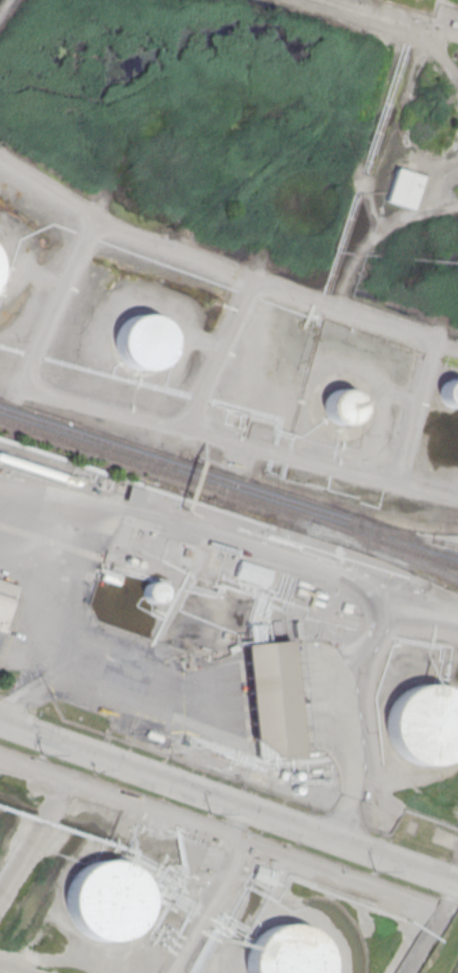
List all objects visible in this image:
building: (404, 188)
building: (1, 282)
building: (143, 341)
building: (449, 393)
building: (341, 407)
railway: (228, 483)
railway: (229, 492)
railway: (406, 535)
railway: (443, 543)
railway: (397, 555)
road: (290, 556)
building: (252, 573)
building: (155, 592)
building: (5, 599)
road: (68, 627)
building: (271, 699)
building: (425, 723)
storage tank: (425, 723)
power tower: (40, 752)
road: (229, 802)
power tower: (209, 812)
road: (344, 818)
power tower: (373, 868)
road: (457, 882)
building: (108, 900)
storage tank: (108, 900)
building: (286, 950)
storage tank: (286, 950)

